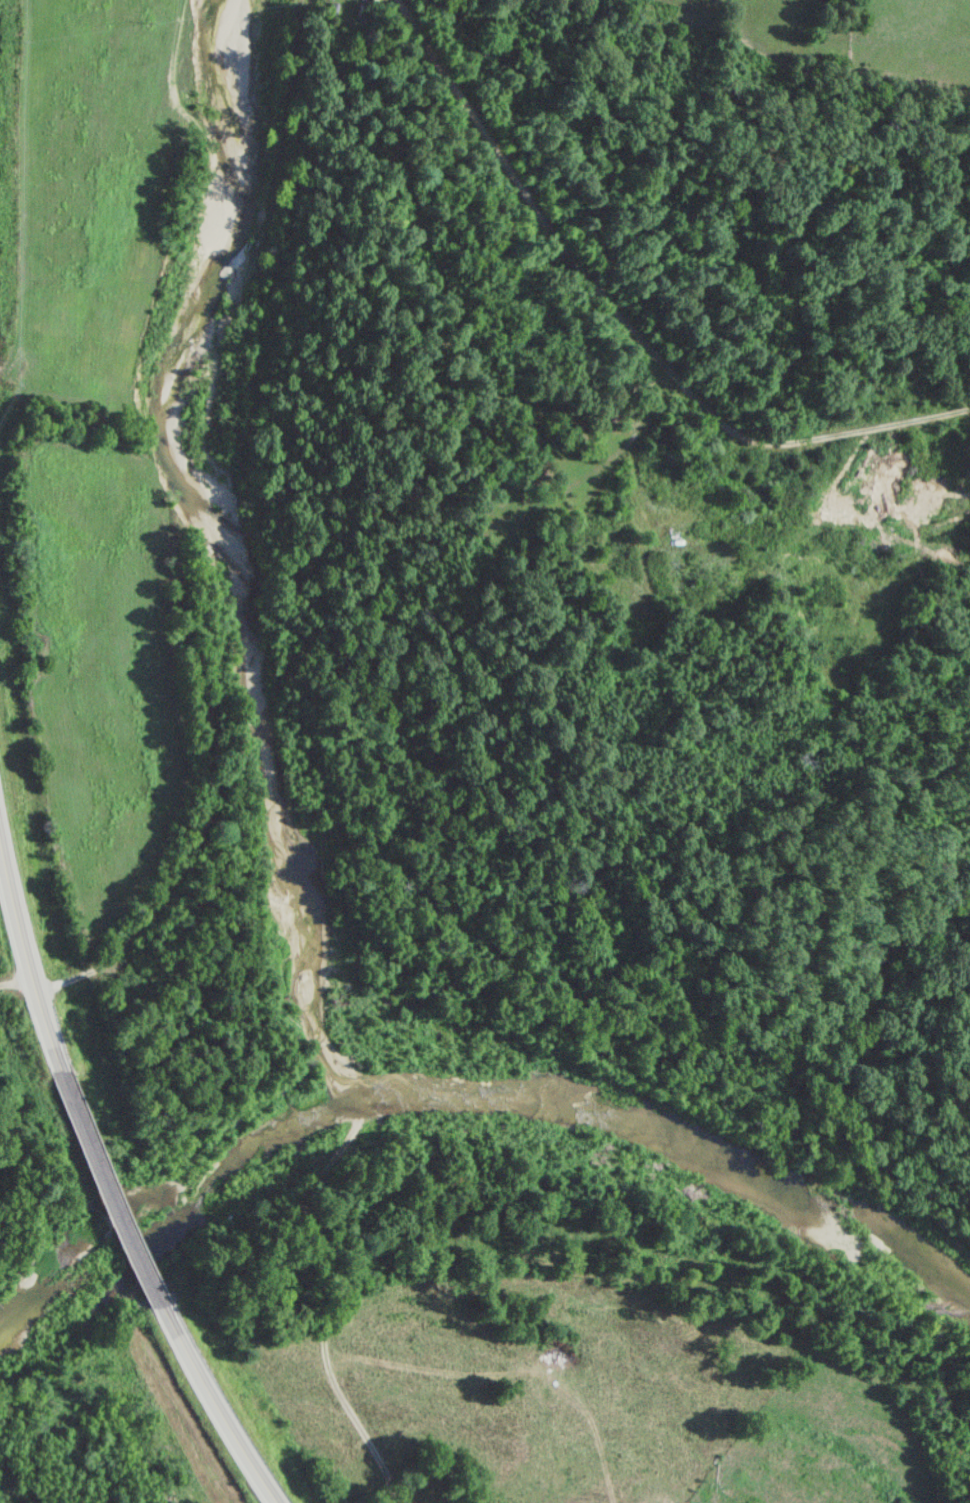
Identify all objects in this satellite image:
road: (278, 235)
road: (219, 776)
road: (24, 951)
road: (16, 983)
river: (473, 1086)
road: (105, 1189)
road: (216, 1412)

